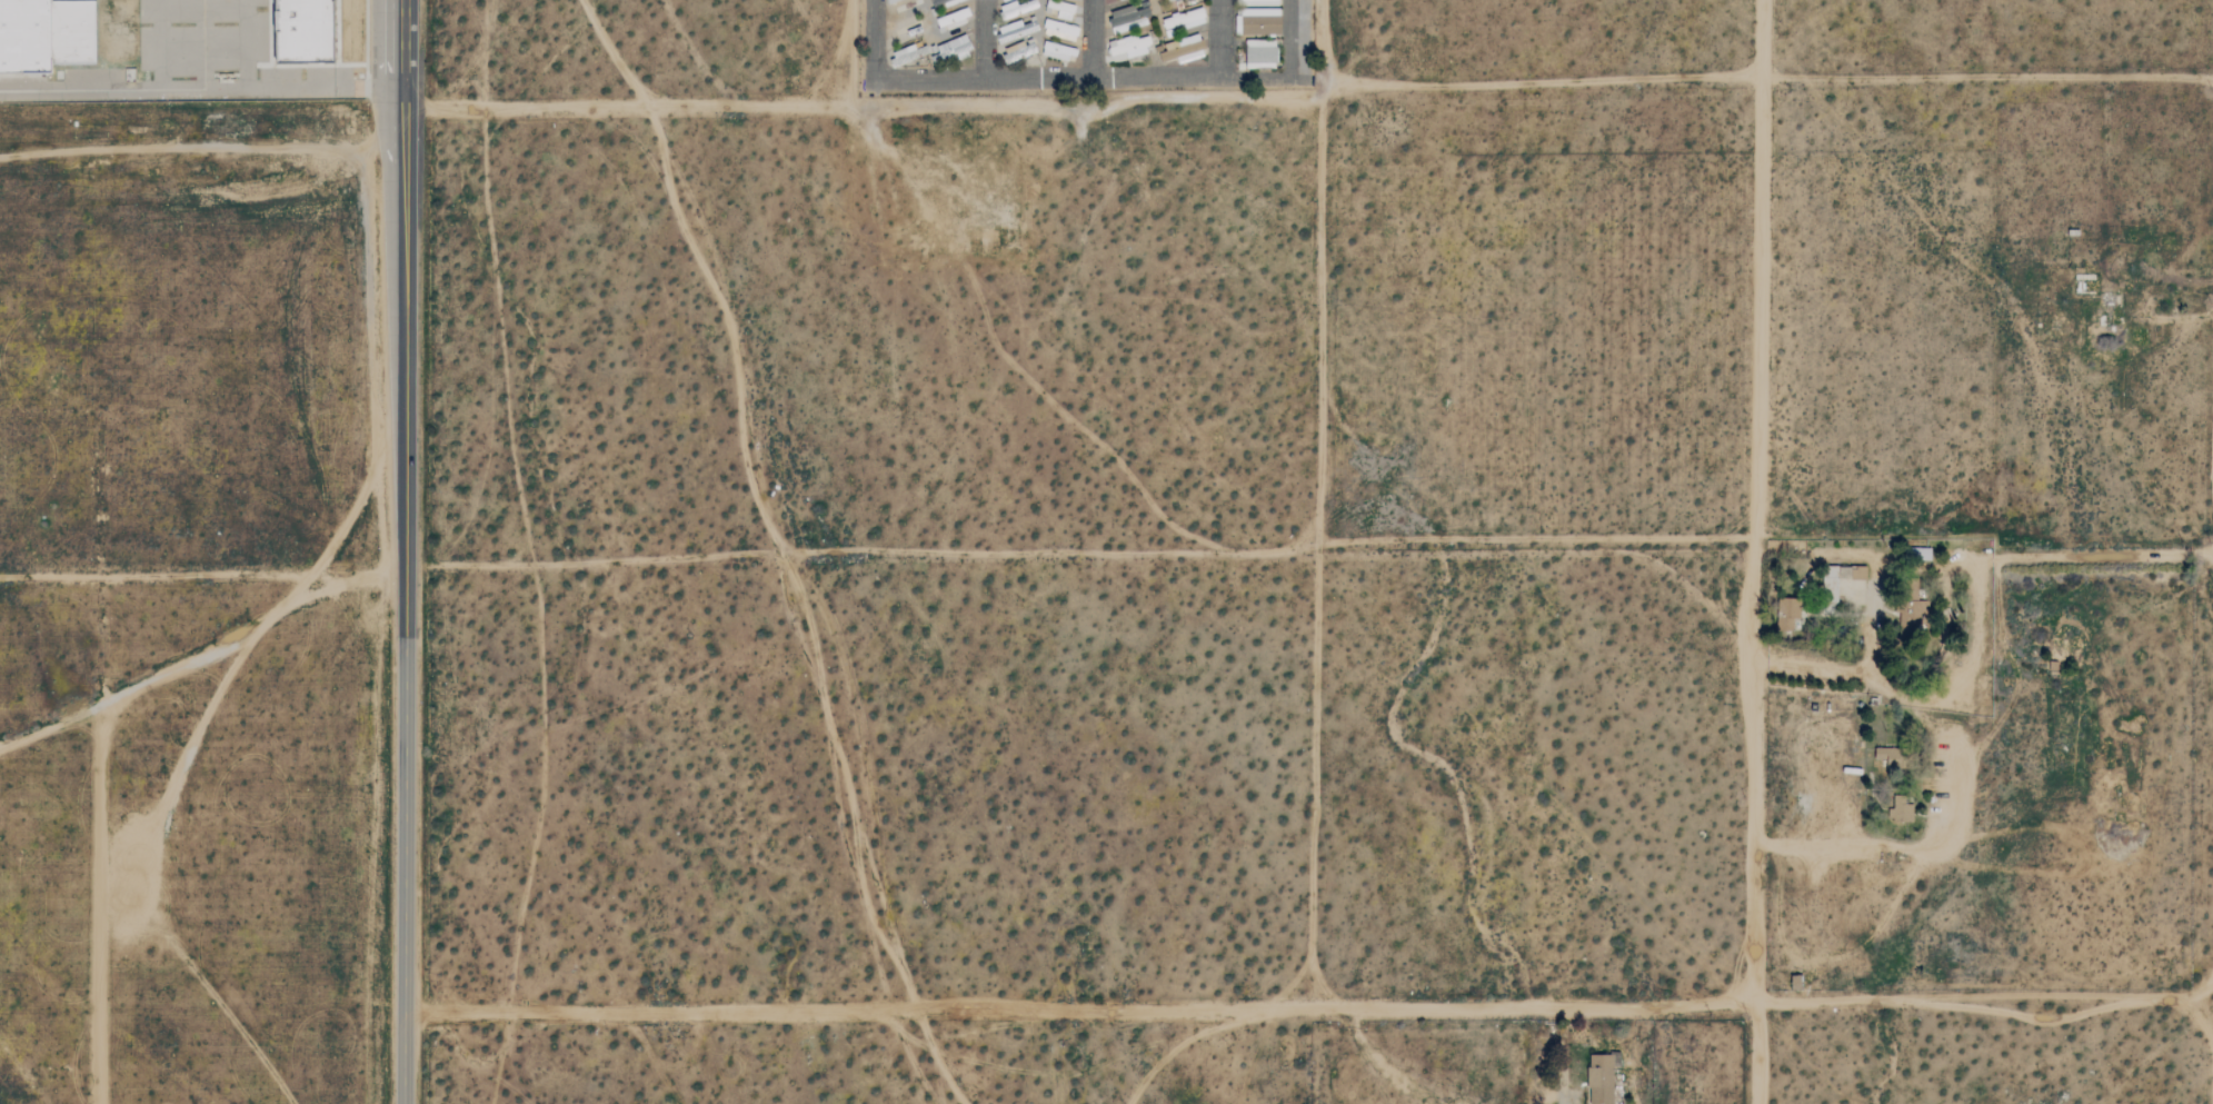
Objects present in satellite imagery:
building: (1004, 0)
building: (1168, 0)
building: (894, 1)
building: (941, 2)
building: (1259, 2)
building: (1018, 8)
building: (1061, 10)
building: (1130, 18)
building: (953, 19)
building: (1183, 20)
building: (1260, 21)
building: (302, 30)
building: (1060, 30)
building: (1011, 31)
building: (44, 33)
road: (984, 41)
road: (1094, 41)
road: (366, 43)
building: (1132, 46)
building: (935, 50)
building: (1183, 50)
building: (1055, 51)
parking lot: (222, 53)
building: (1262, 53)
road: (1297, 78)
road: (1987, 79)
road: (1046, 82)
road: (197, 88)
road: (1758, 270)
road: (1309, 547)
road: (406, 551)
building: (1860, 571)
building: (1831, 590)
building: (1788, 611)
building: (1913, 611)
road: (1848, 667)
building: (1903, 812)
road: (1756, 823)
road: (1701, 1004)
road: (1025, 1006)
road: (1563, 1056)
road: (1380, 1064)
building: (1601, 1078)

